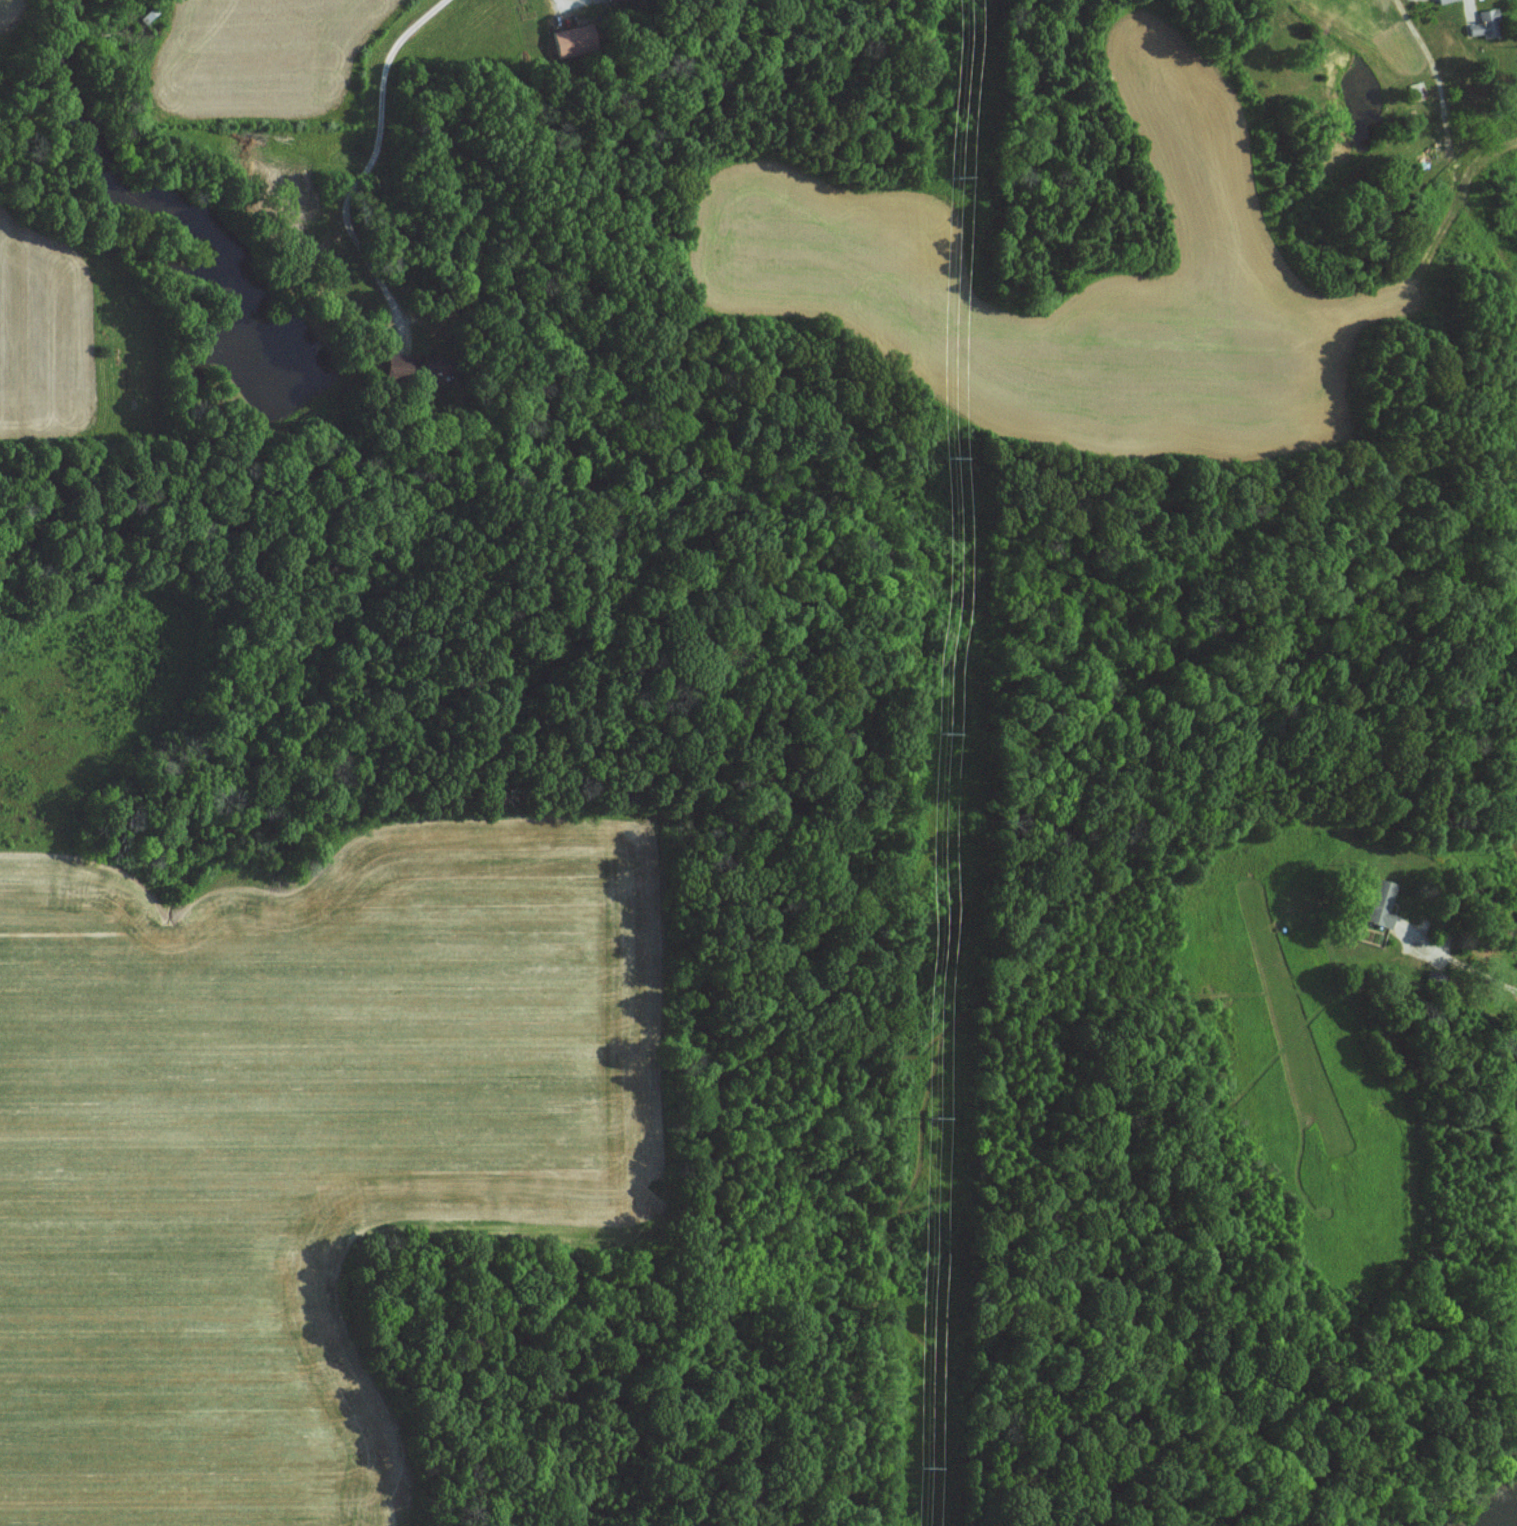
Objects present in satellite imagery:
road: (555, 1)
building: (1443, 1)
building: (1486, 23)
building: (573, 39)
road: (367, 165)
building: (401, 361)
building: (427, 366)
building: (1382, 904)

